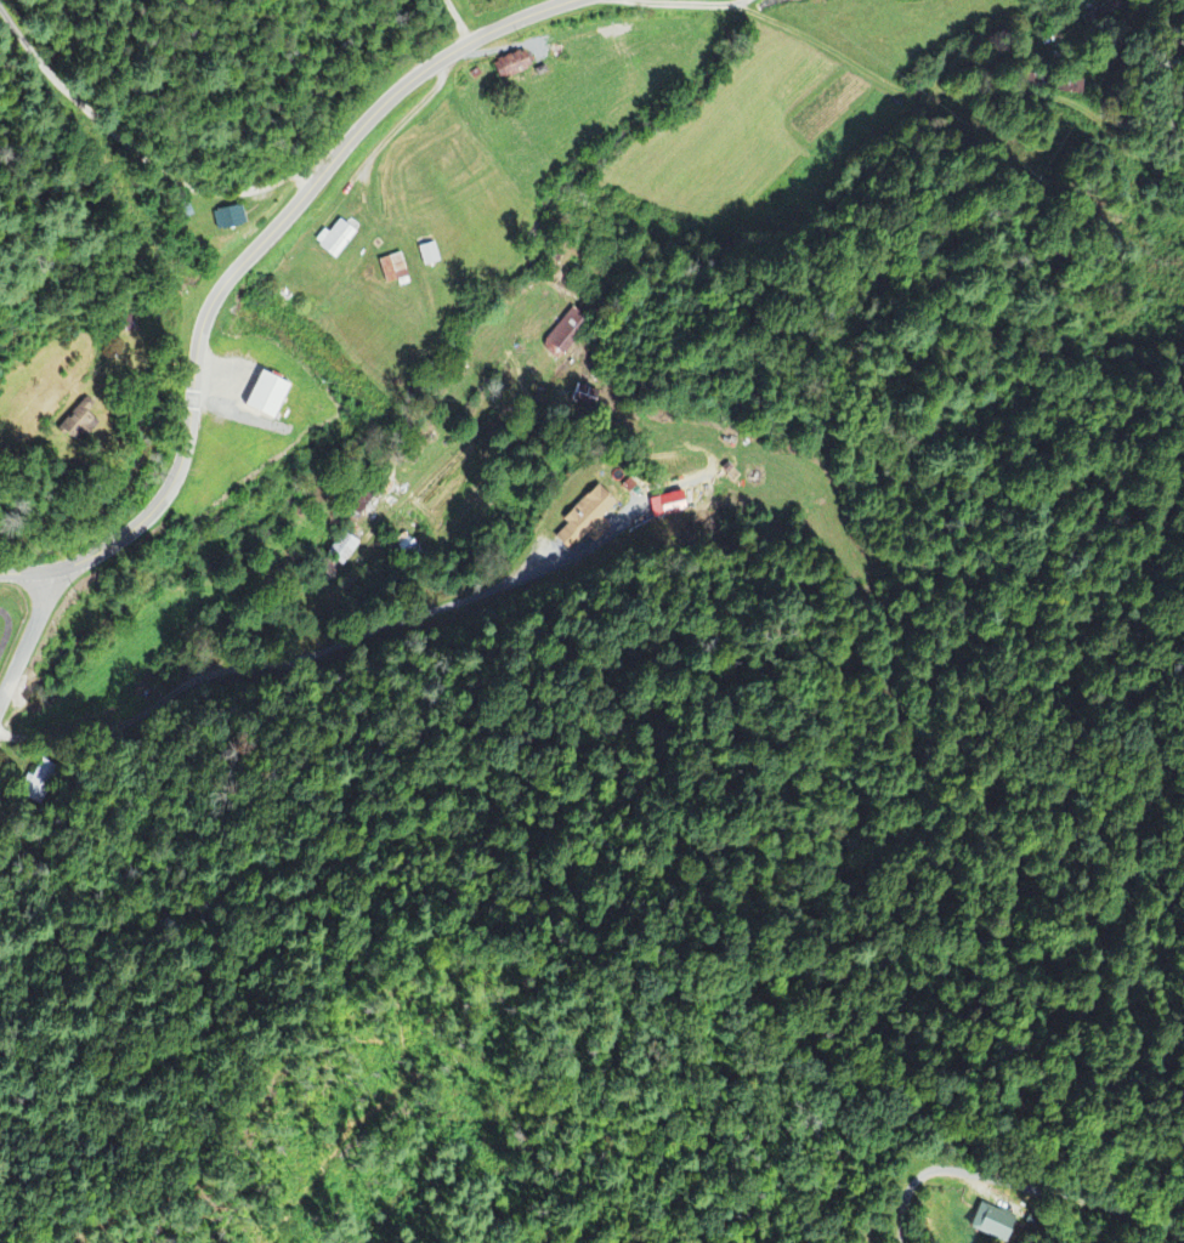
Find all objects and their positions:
road: (980, 68)
road: (136, 154)
building: (231, 220)
building: (339, 240)
building: (431, 256)
road: (237, 266)
building: (395, 271)
building: (567, 335)
building: (271, 397)
building: (80, 425)
building: (669, 507)
building: (590, 521)
road: (33, 620)
road: (6, 685)
road: (174, 685)
road: (959, 1174)
road: (1127, 1218)
building: (991, 1225)

